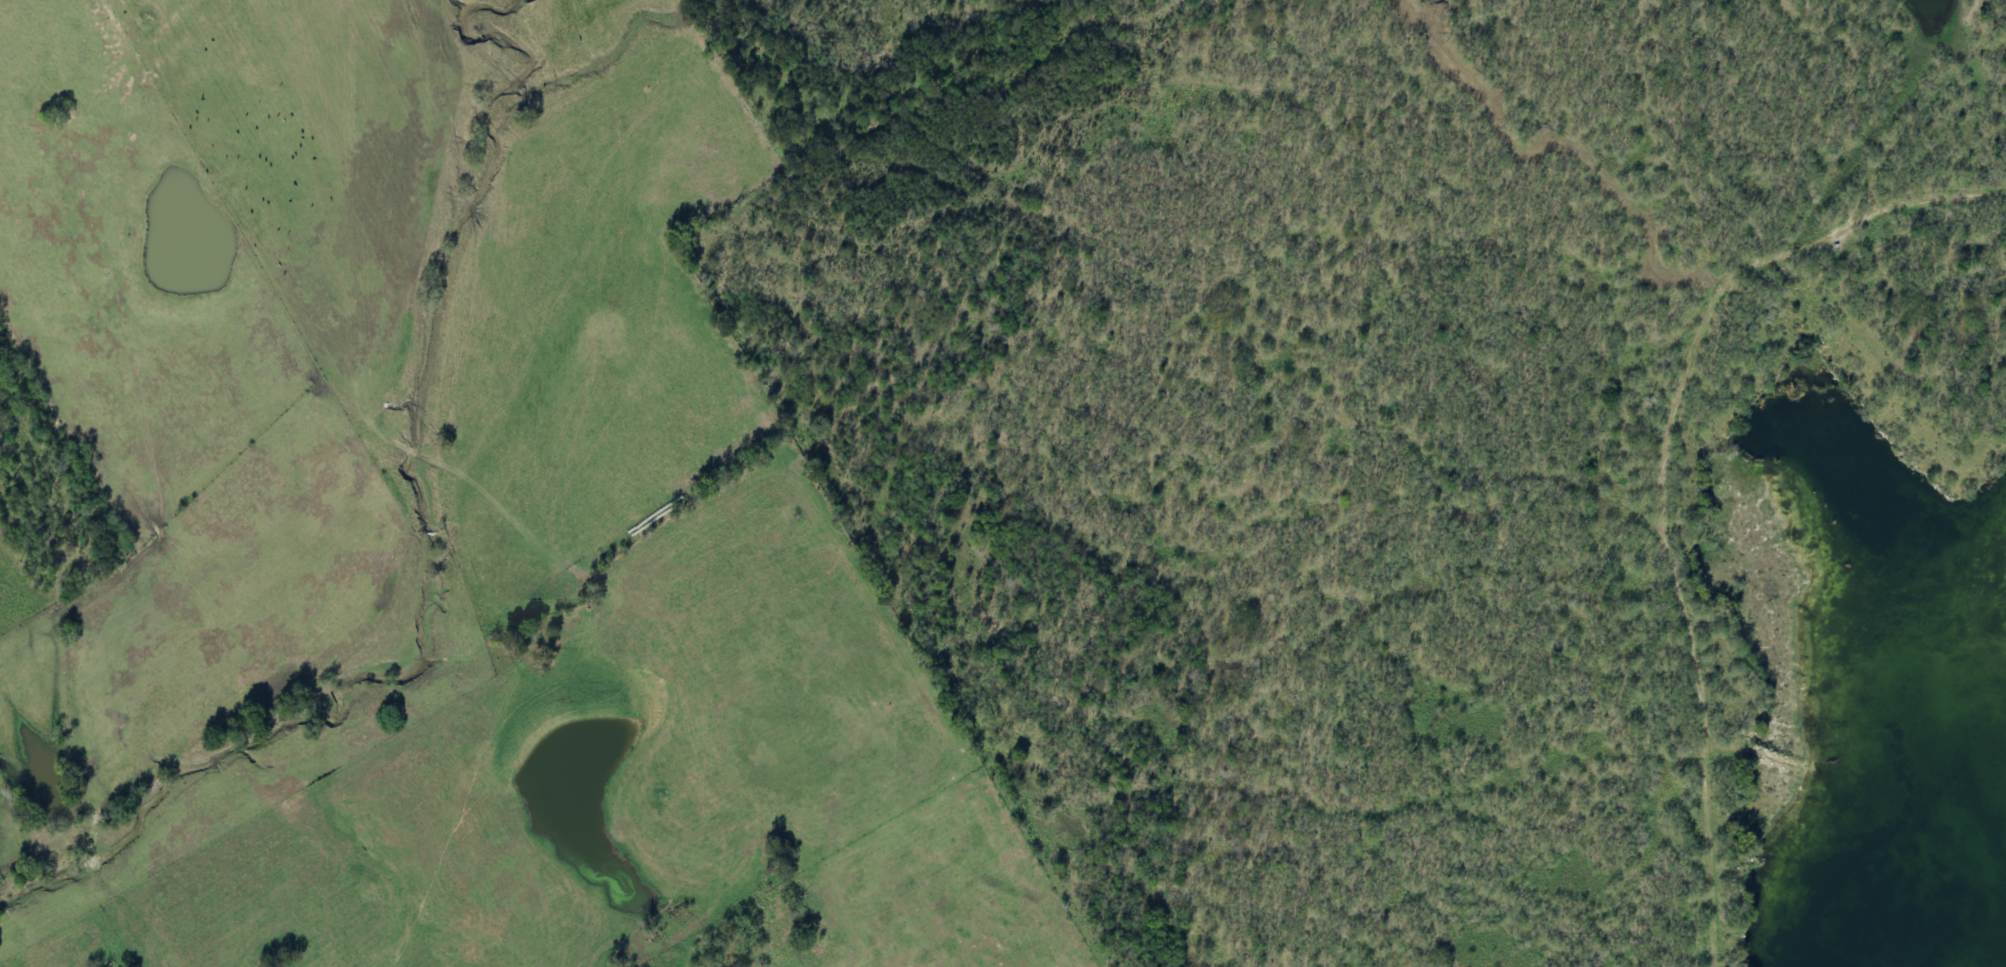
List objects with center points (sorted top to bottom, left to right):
road: (17, 390)

